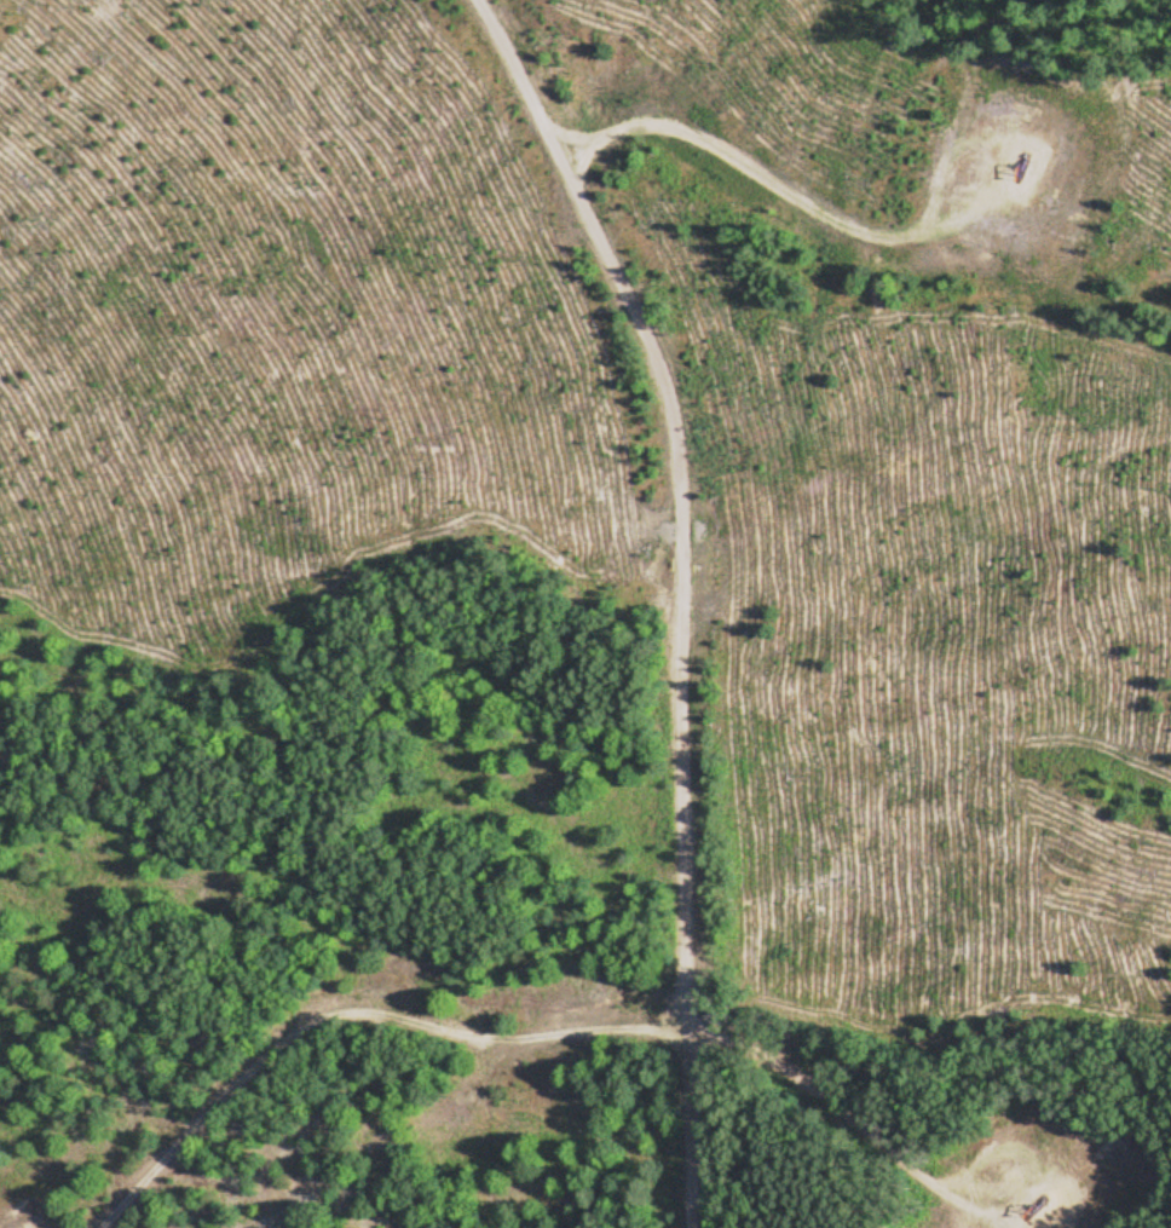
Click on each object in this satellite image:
petroleum well: (1023, 166)
road: (758, 174)
road: (686, 590)
road: (498, 1037)
petroleum well: (1025, 1211)

